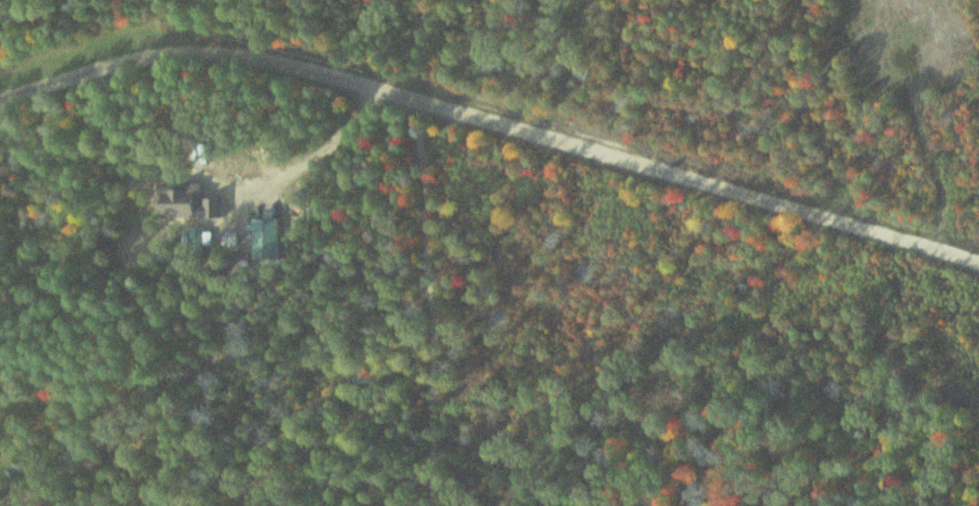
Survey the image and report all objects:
road: (491, 111)
building: (178, 208)
road: (434, 302)

